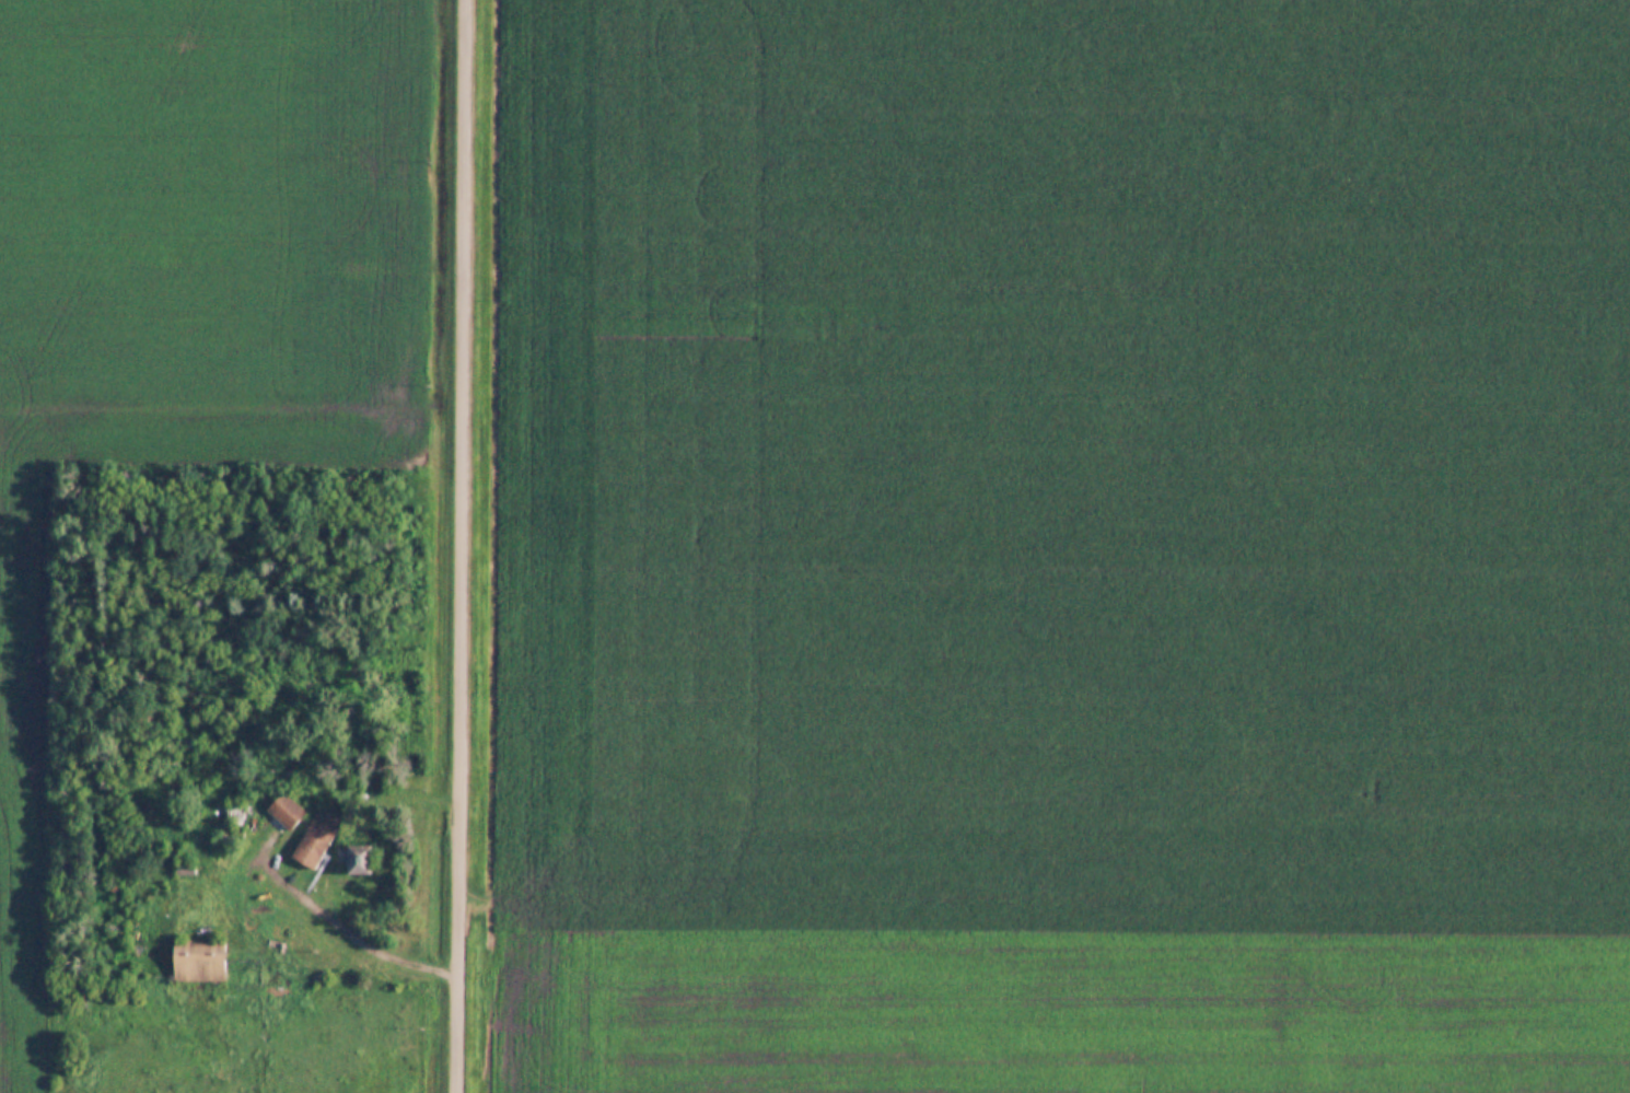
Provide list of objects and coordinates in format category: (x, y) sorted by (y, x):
road: (459, 546)
building: (281, 809)
building: (310, 841)

